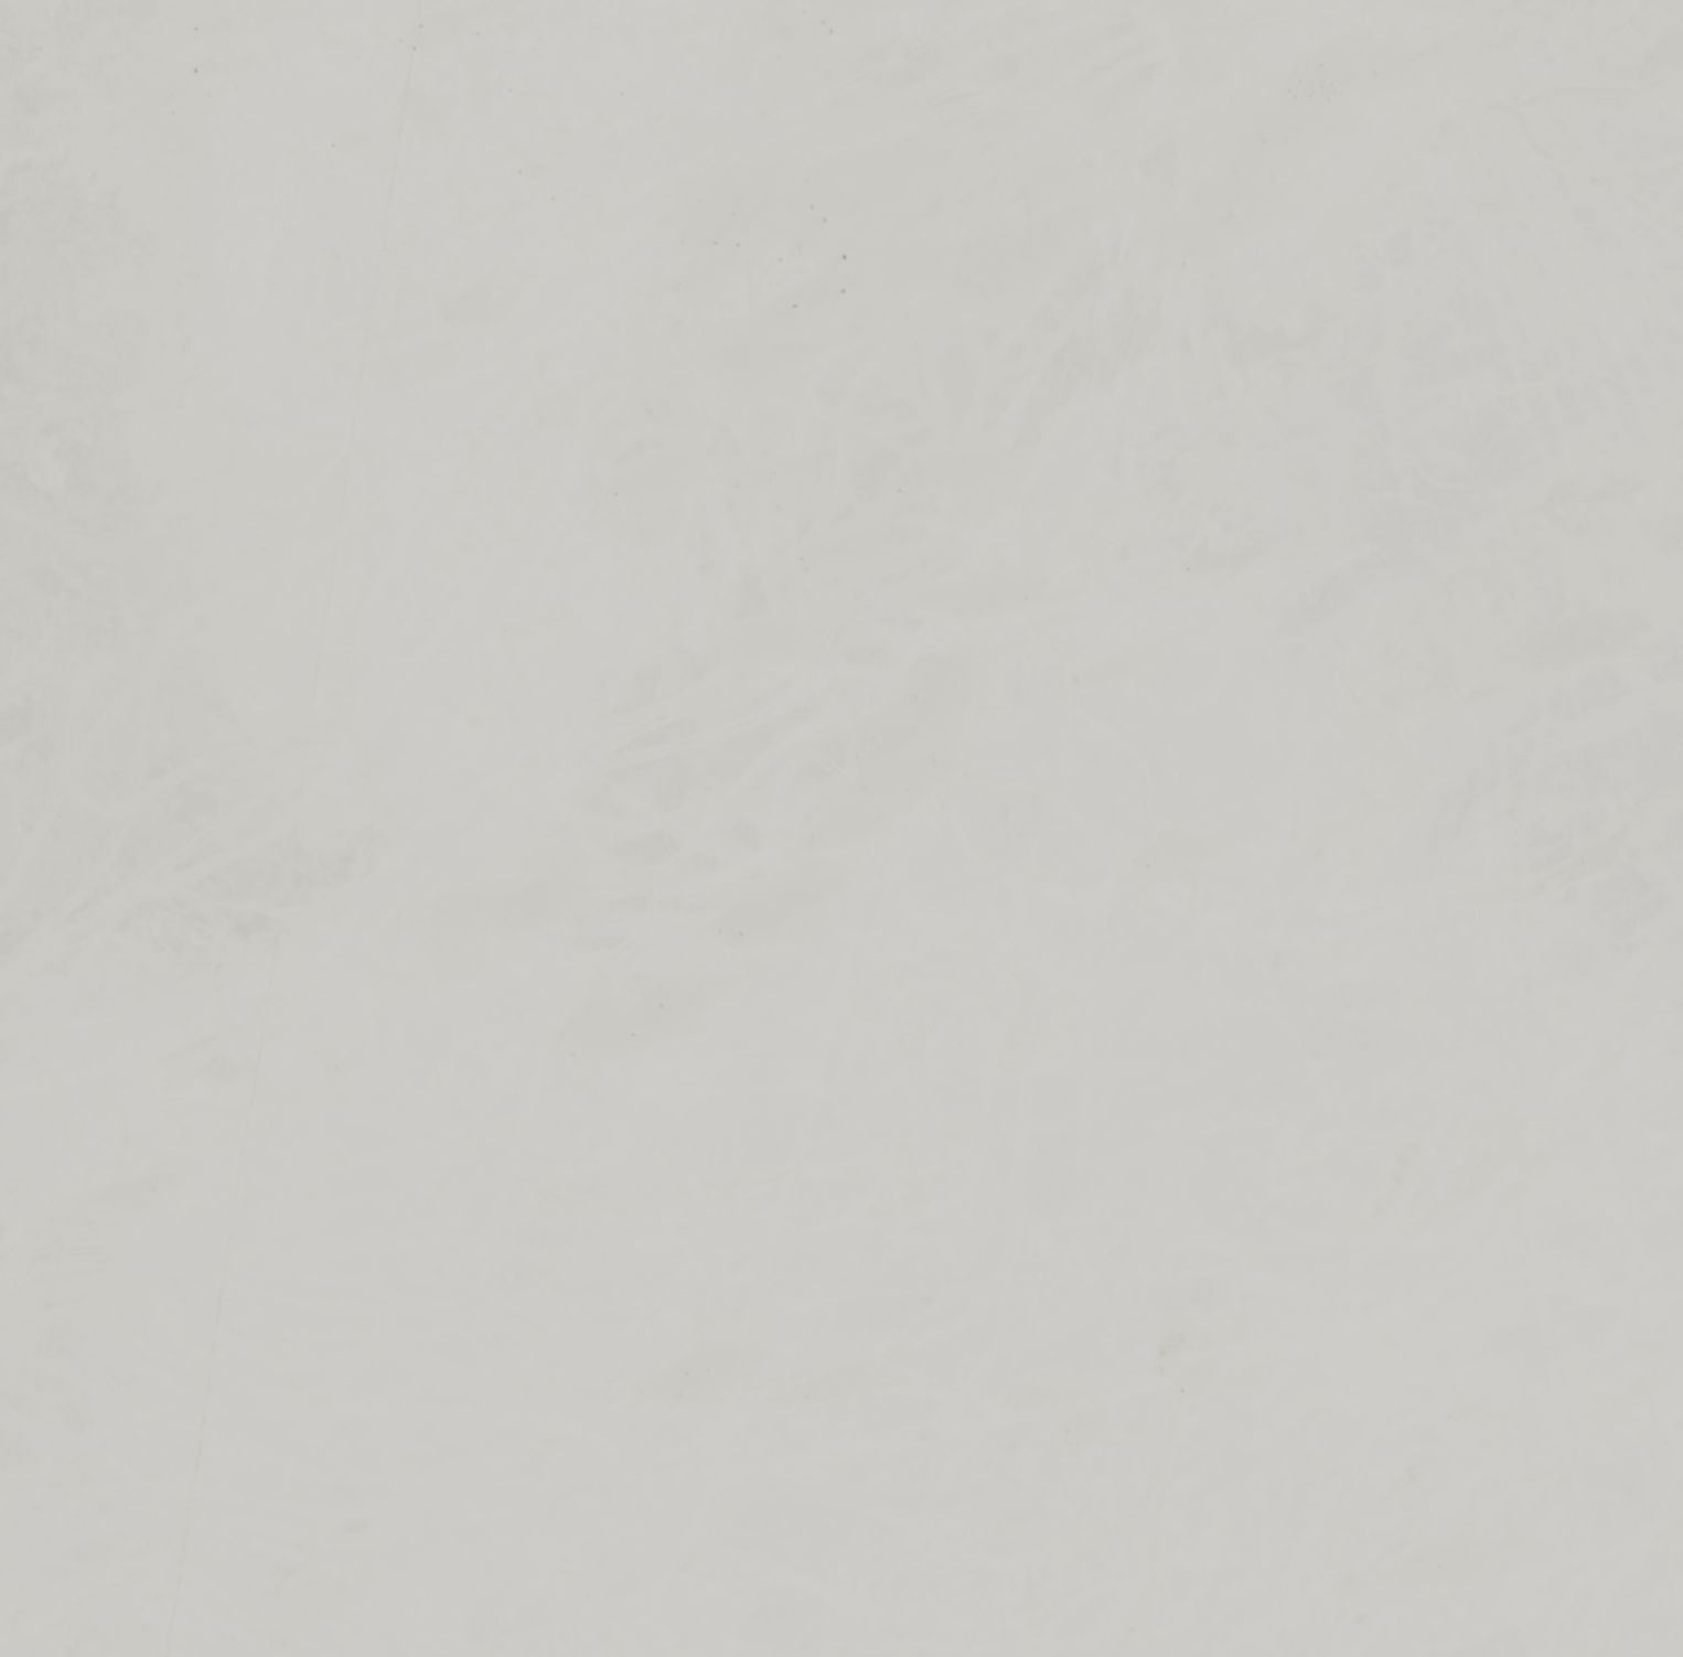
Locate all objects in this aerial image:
road: (1311, 1258)

